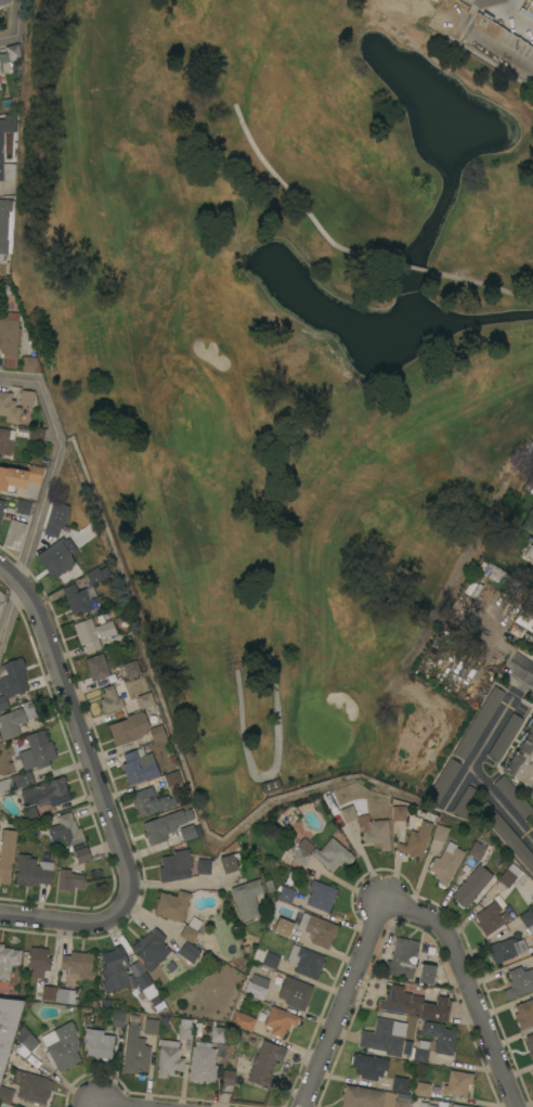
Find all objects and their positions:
building: (3, 1)
building: (467, 1)
building: (531, 3)
road: (16, 17)
road: (8, 37)
road: (484, 41)
building: (13, 52)
building: (0, 70)
building: (0, 87)
building: (1, 162)
road: (299, 202)
building: (5, 226)
road: (408, 268)
road: (478, 282)
building: (9, 338)
building: (28, 363)
park: (292, 366)
building: (26, 397)
building: (9, 408)
building: (36, 434)
building: (5, 441)
building: (18, 477)
building: (530, 480)
building: (531, 490)
road: (44, 494)
building: (1, 506)
building: (23, 507)
building: (55, 518)
building: (14, 533)
building: (529, 553)
building: (57, 556)
building: (94, 575)
building: (80, 600)
building: (1, 601)
building: (525, 616)
building: (92, 633)
building: (100, 665)
building: (131, 668)
road: (522, 668)
building: (11, 680)
building: (144, 699)
building: (110, 700)
road: (498, 717)
building: (11, 722)
building: (479, 722)
road: (79, 726)
building: (129, 728)
building: (158, 732)
building: (505, 736)
building: (37, 751)
building: (522, 758)
building: (139, 765)
road: (270, 773)
building: (442, 781)
building: (15, 782)
building: (173, 783)
building: (270, 785)
road: (457, 785)
building: (47, 793)
building: (513, 797)
building: (149, 801)
building: (465, 801)
road: (502, 801)
building: (399, 813)
building: (29, 814)
building: (532, 824)
building: (161, 826)
building: (368, 827)
building: (66, 829)
building: (187, 833)
building: (440, 833)
building: (507, 835)
building: (416, 841)
building: (477, 849)
building: (331, 853)
building: (6, 854)
building: (82, 854)
building: (300, 855)
building: (229, 863)
building: (445, 864)
building: (174, 865)
building: (203, 866)
building: (32, 871)
building: (508, 875)
building: (69, 879)
building: (471, 886)
building: (285, 893)
building: (321, 896)
building: (247, 899)
building: (172, 905)
building: (491, 917)
road: (67, 921)
building: (523, 921)
building: (283, 928)
building: (190, 929)
building: (320, 930)
building: (151, 949)
building: (509, 949)
building: (188, 952)
building: (402, 957)
building: (8, 960)
building: (271, 960)
building: (304, 961)
building: (38, 962)
building: (76, 966)
building: (136, 968)
building: (114, 970)
building: (426, 974)
building: (142, 980)
building: (519, 982)
road: (468, 983)
building: (255, 987)
building: (149, 991)
building: (48, 992)
building: (295, 992)
building: (65, 995)
building: (155, 1000)
building: (94, 1003)
road: (348, 1003)
building: (415, 1005)
building: (524, 1014)
building: (394, 1016)
building: (87, 1018)
building: (118, 1019)
building: (243, 1020)
building: (275, 1022)
building: (8, 1026)
building: (151, 1026)
building: (185, 1028)
building: (218, 1034)
building: (440, 1037)
building: (27, 1040)
building: (385, 1040)
building: (97, 1043)
building: (530, 1043)
building: (62, 1047)
building: (420, 1051)
building: (135, 1055)
building: (169, 1058)
building: (203, 1063)
building: (265, 1064)
building: (368, 1066)
building: (229, 1077)
building: (399, 1083)
building: (458, 1083)
building: (31, 1086)
building: (421, 1089)
building: (5, 1094)
building: (403, 1096)
building: (361, 1097)
building: (399, 1103)
building: (426, 1105)
road: (94, 1106)
road: (104, 1106)
building: (459, 1106)

